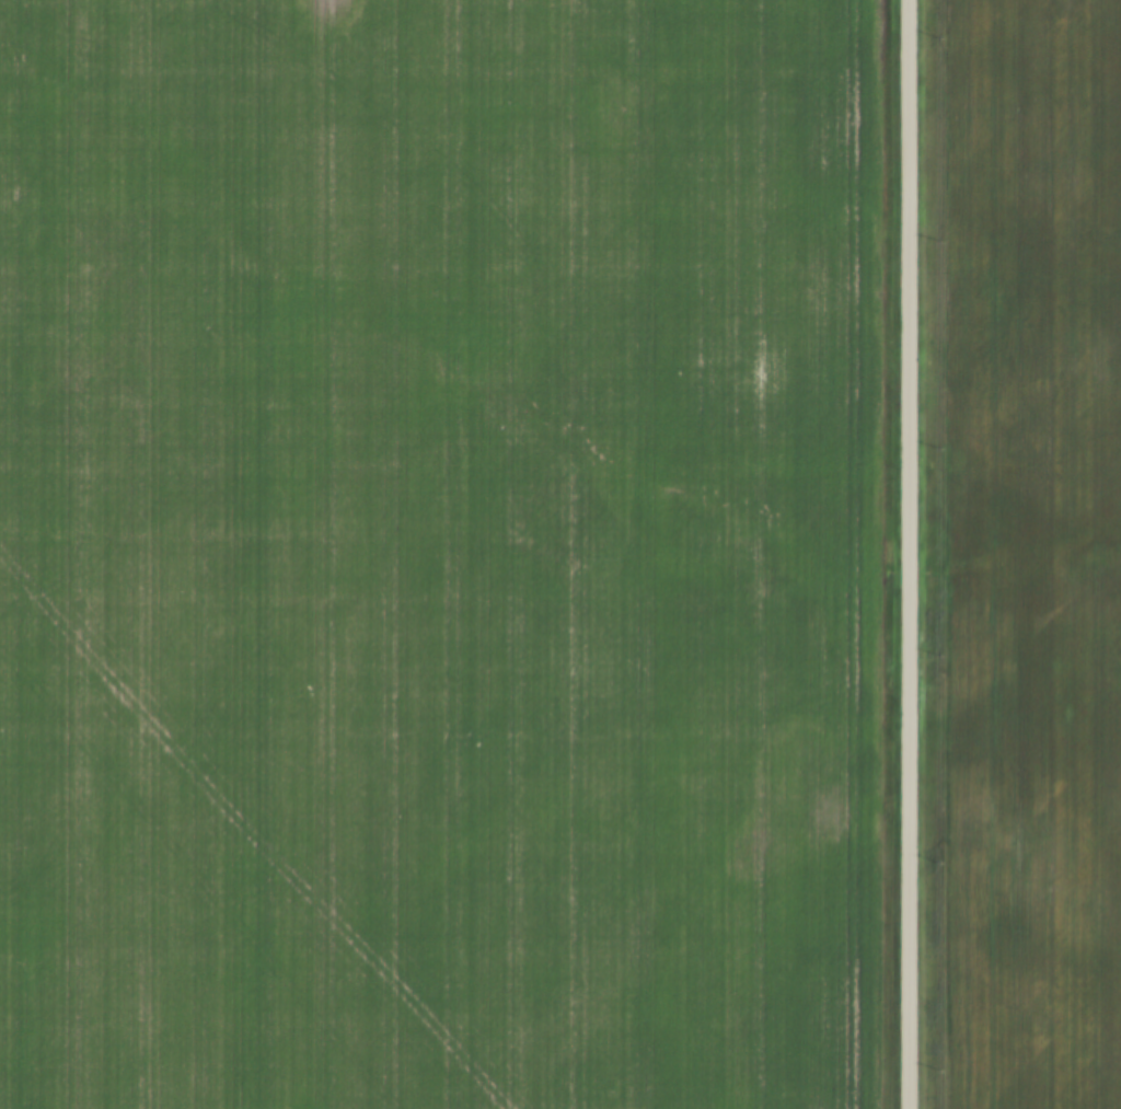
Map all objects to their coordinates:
road: (909, 554)

